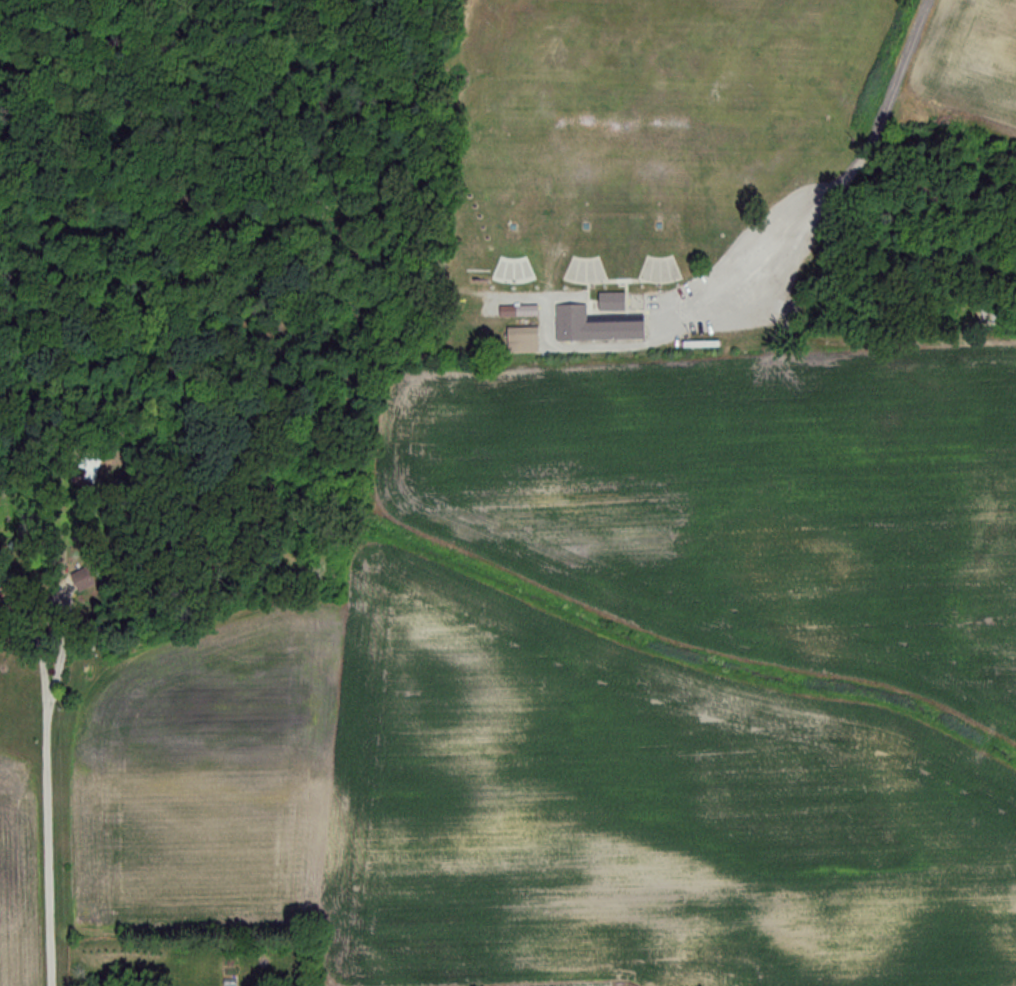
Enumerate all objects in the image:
road: (843, 188)
building: (593, 325)
building: (520, 340)
building: (87, 467)
road: (53, 603)
road: (48, 843)

